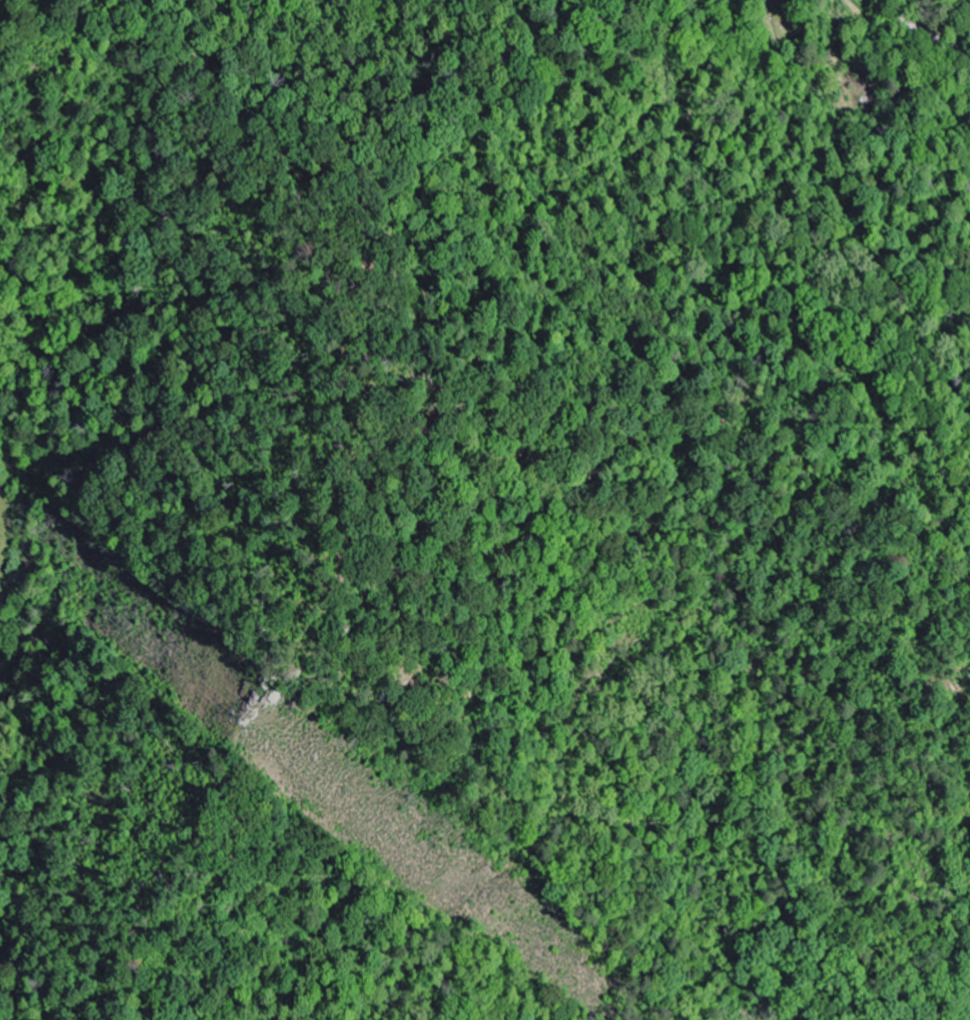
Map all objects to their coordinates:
road: (930, 31)
power tower: (232, 722)

